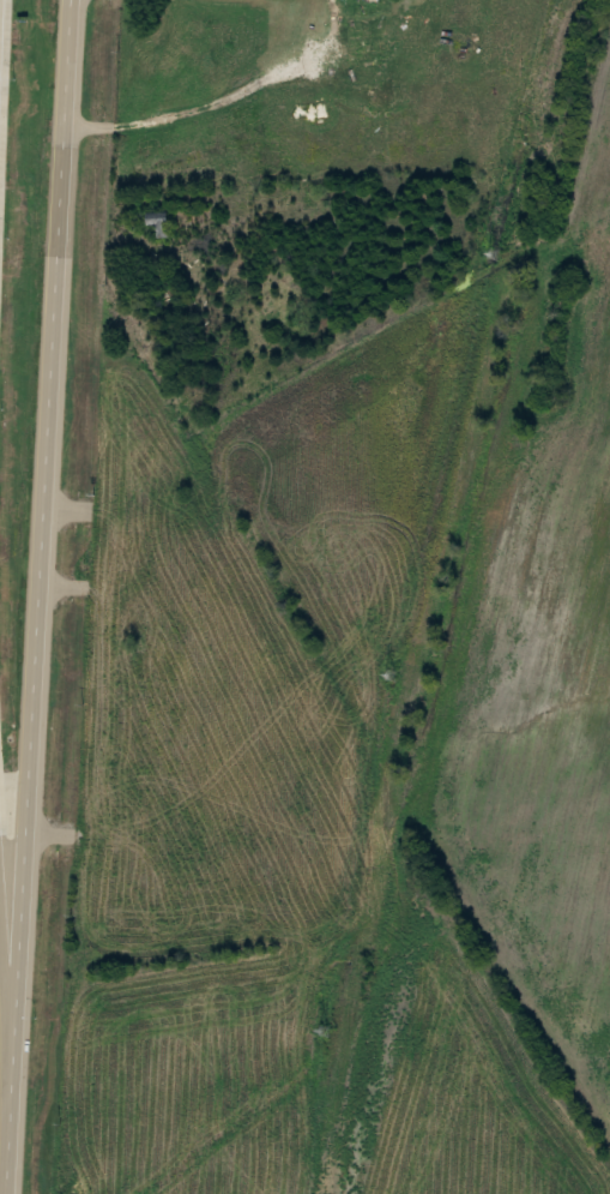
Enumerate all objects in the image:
building: (29, 176)
building: (158, 227)
building: (7, 234)
power tower: (491, 253)
road: (37, 596)
power tower: (394, 674)
crop: (543, 676)
road: (6, 980)
power tower: (320, 1030)

